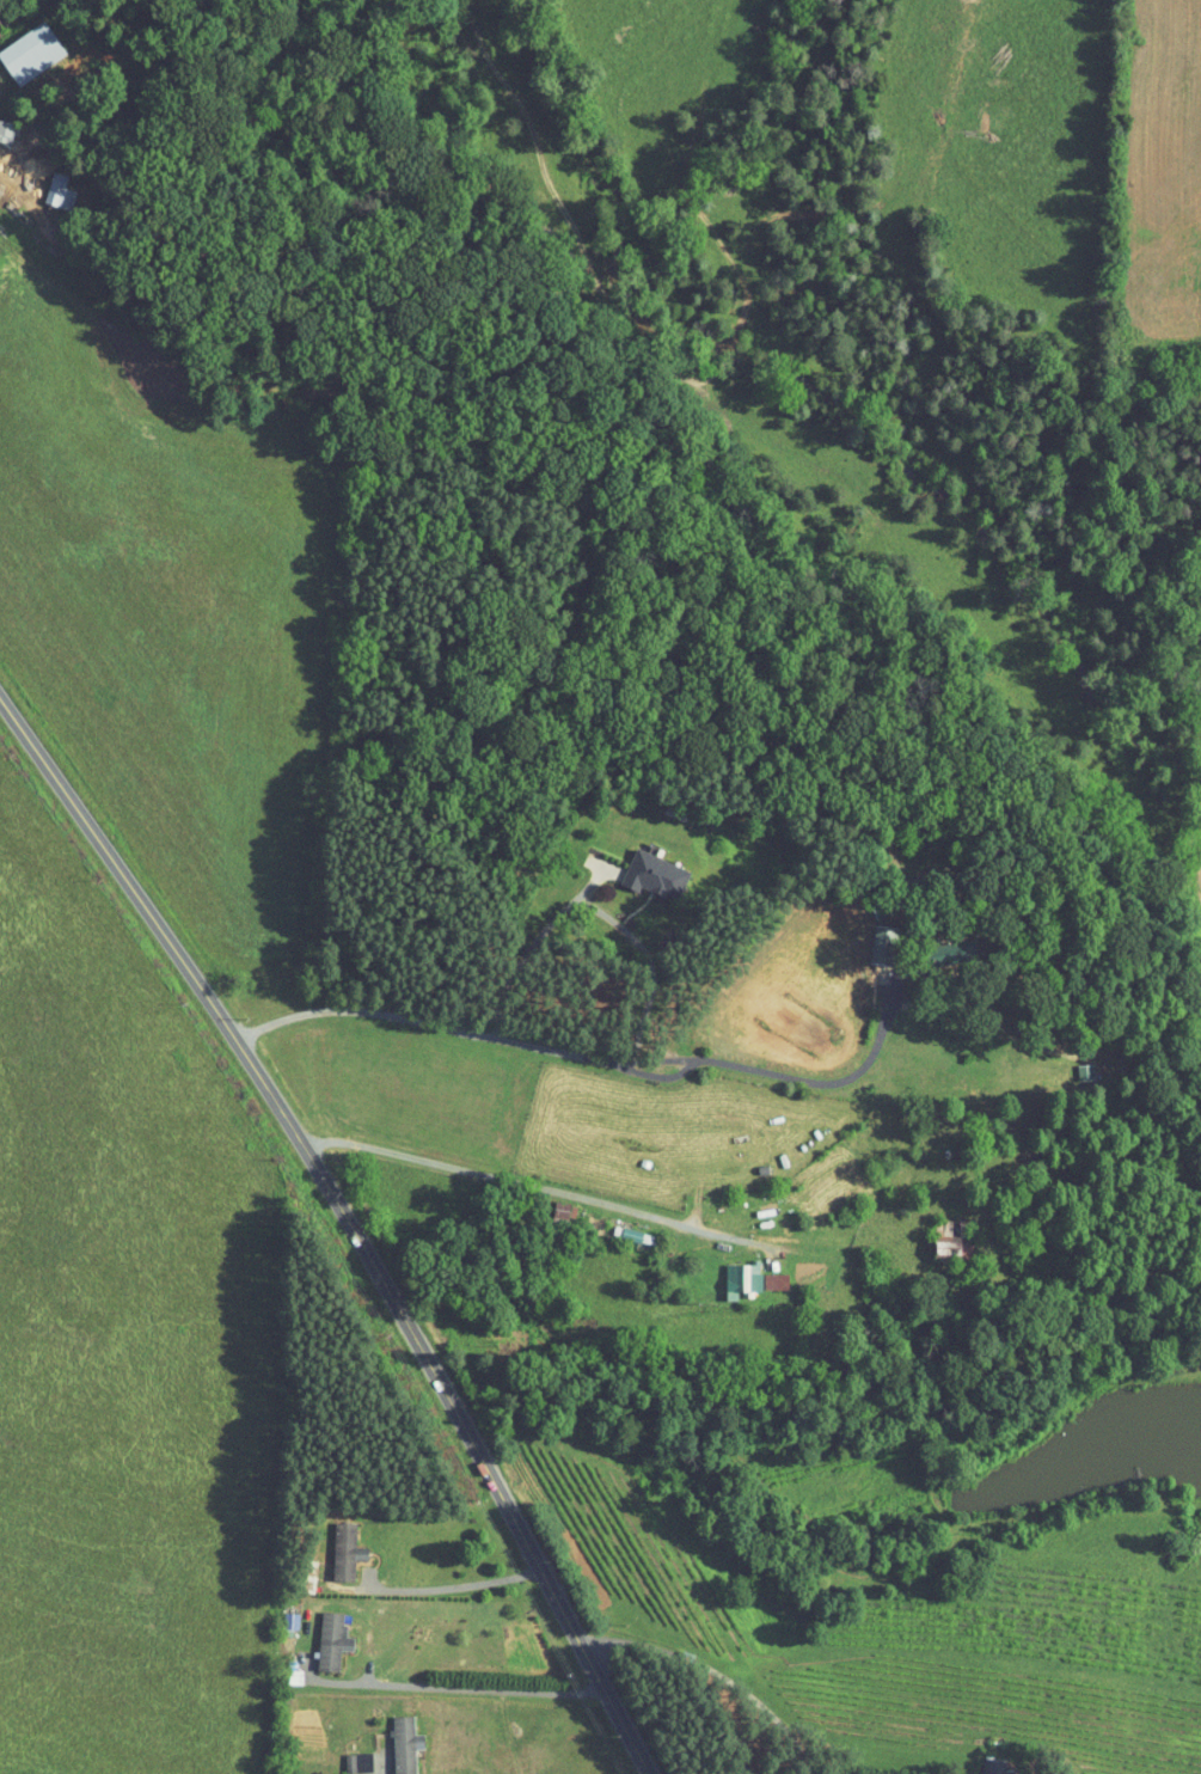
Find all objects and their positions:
building: (22, 44)
building: (0, 116)
building: (45, 184)
building: (641, 867)
building: (871, 938)
road: (648, 960)
road: (593, 1058)
building: (1072, 1065)
road: (540, 1198)
building: (551, 1204)
road: (354, 1228)
building: (625, 1229)
building: (938, 1232)
building: (739, 1273)
building: (333, 1543)
road: (451, 1586)
building: (319, 1633)
road: (725, 1678)
road: (451, 1687)
building: (392, 1737)
building: (986, 1762)

